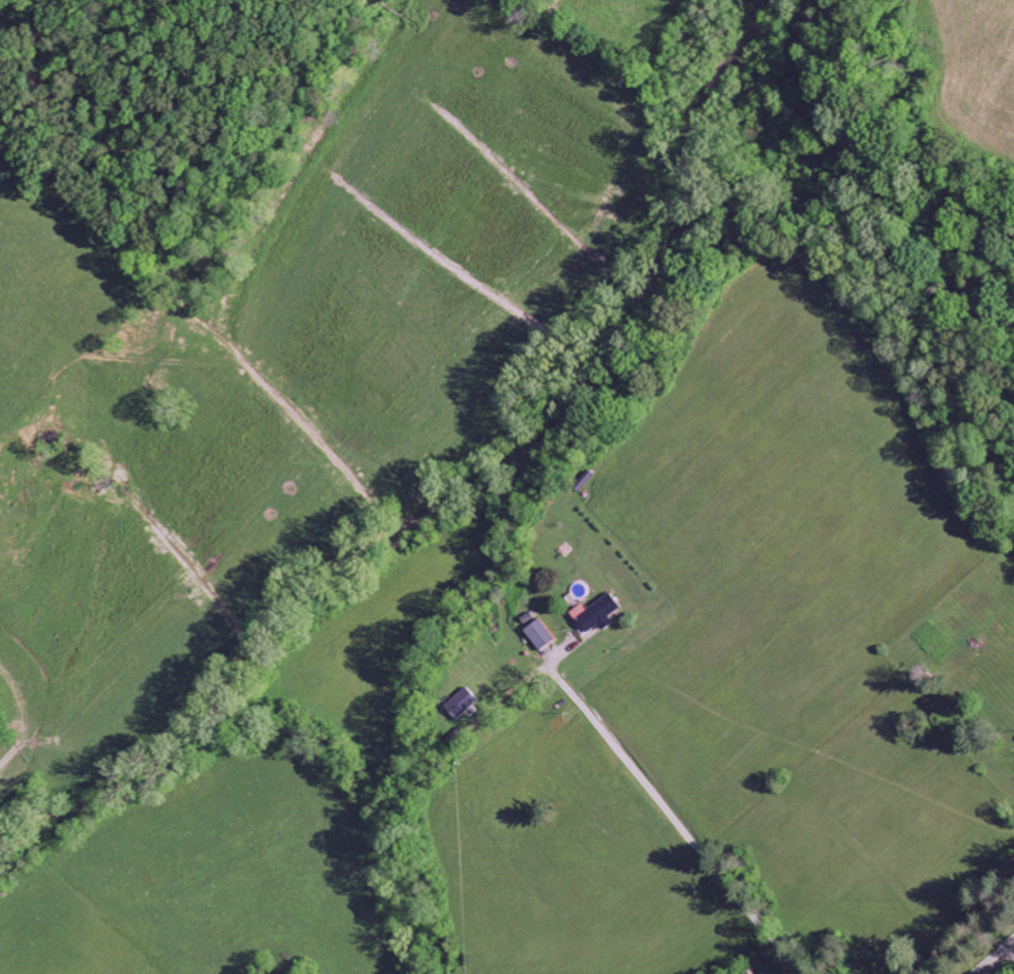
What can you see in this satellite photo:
building: (595, 616)
building: (538, 636)
building: (462, 705)
road: (679, 825)
road: (1009, 953)
road: (996, 958)

